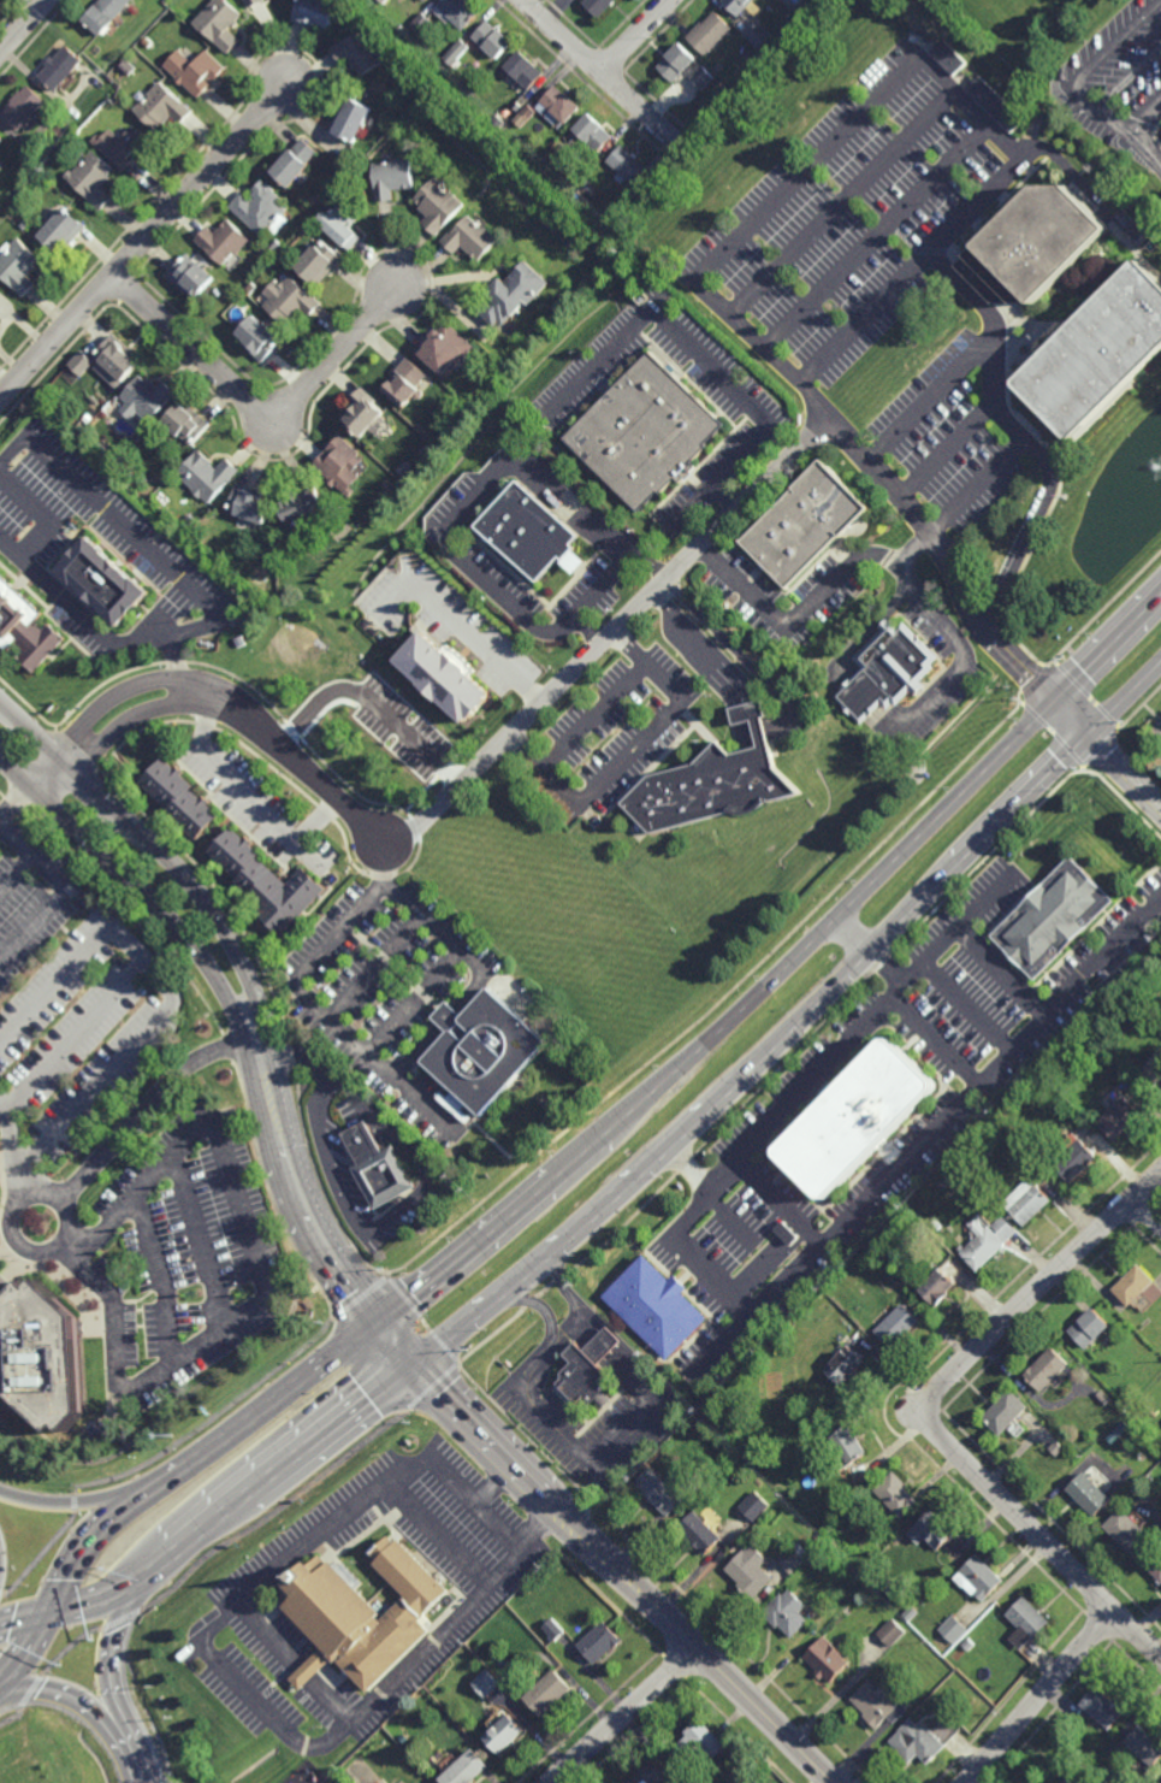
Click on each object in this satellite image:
building: (426, 0)
building: (383, 1)
building: (253, 2)
building: (739, 5)
building: (813, 5)
building: (599, 6)
building: (315, 12)
building: (457, 12)
building: (105, 14)
building: (220, 23)
building: (421, 23)
road: (24, 26)
building: (710, 33)
building: (758, 34)
road: (636, 36)
building: (493, 39)
building: (147, 42)
building: (420, 48)
building: (362, 51)
building: (455, 53)
building: (948, 58)
building: (677, 61)
building: (128, 66)
building: (61, 67)
building: (194, 70)
building: (522, 72)
road: (602, 72)
building: (704, 77)
road: (1131, 85)
road: (1073, 88)
building: (521, 102)
building: (994, 104)
building: (162, 106)
building: (23, 107)
building: (559, 107)
building: (525, 116)
road: (1144, 116)
building: (496, 117)
building: (351, 118)
building: (594, 132)
building: (1, 140)
building: (123, 144)
building: (417, 153)
road: (1062, 161)
building: (296, 163)
building: (423, 164)
building: (626, 164)
building: (579, 171)
building: (91, 177)
building: (393, 178)
building: (587, 189)
road: (775, 203)
road: (841, 203)
building: (439, 206)
building: (263, 207)
building: (23, 224)
building: (340, 226)
building: (64, 230)
road: (876, 237)
building: (472, 238)
building: (225, 241)
road: (144, 242)
building: (277, 244)
building: (1039, 247)
building: (266, 250)
building: (320, 262)
building: (18, 265)
building: (195, 277)
building: (514, 295)
building: (294, 302)
building: (261, 338)
building: (446, 350)
building: (1098, 354)
building: (118, 361)
building: (82, 362)
road: (701, 362)
building: (407, 385)
building: (147, 398)
building: (95, 400)
road: (929, 402)
road: (260, 403)
building: (363, 414)
building: (188, 423)
building: (647, 431)
road: (1021, 437)
building: (105, 448)
road: (946, 453)
building: (338, 464)
building: (207, 473)
building: (387, 485)
road: (976, 486)
building: (302, 502)
building: (251, 503)
road: (692, 509)
road: (40, 518)
building: (189, 519)
road: (458, 521)
building: (806, 521)
building: (537, 526)
building: (340, 531)
road: (912, 548)
building: (105, 578)
building: (288, 591)
road: (211, 606)
road: (884, 622)
building: (25, 626)
road: (590, 630)
road: (609, 637)
building: (209, 642)
road: (473, 649)
road: (179, 663)
building: (888, 671)
building: (445, 677)
traffic signals: (1056, 701)
road: (371, 709)
road: (96, 710)
road: (597, 716)
road: (1073, 719)
road: (788, 728)
road: (106, 733)
traffic signals: (1090, 738)
road: (630, 751)
road: (291, 755)
road: (1125, 773)
building: (715, 781)
road: (242, 787)
building: (180, 798)
road: (16, 802)
road: (316, 819)
road: (161, 851)
road: (885, 869)
road: (17, 876)
building: (267, 881)
road: (934, 888)
road: (141, 891)
road: (59, 897)
building: (1055, 919)
road: (852, 935)
road: (977, 946)
road: (461, 956)
road: (374, 968)
road: (885, 968)
road: (165, 988)
road: (313, 1000)
road: (414, 1004)
road: (969, 1006)
road: (444, 1032)
road: (75, 1037)
road: (931, 1043)
road: (230, 1047)
building: (484, 1051)
building: (1153, 1069)
road: (810, 1080)
road: (149, 1105)
building: (855, 1120)
building: (1120, 1120)
building: (993, 1126)
road: (926, 1135)
road: (16, 1149)
road: (579, 1157)
building: (1074, 1161)
building: (378, 1168)
road: (269, 1197)
building: (1027, 1202)
road: (775, 1204)
road: (1148, 1212)
road: (728, 1215)
road: (308, 1216)
road: (67, 1218)
building: (786, 1232)
road: (371, 1234)
road: (559, 1239)
road: (200, 1240)
building: (987, 1241)
road: (466, 1253)
road: (691, 1258)
road: (765, 1263)
road: (158, 1276)
road: (267, 1282)
building: (937, 1287)
building: (1138, 1288)
road: (1041, 1291)
building: (653, 1305)
building: (896, 1326)
traffic signals: (379, 1327)
road: (564, 1327)
building: (1090, 1328)
building: (49, 1347)
traffic signals: (411, 1364)
building: (845, 1365)
road: (526, 1366)
building: (588, 1368)
building: (1048, 1369)
road: (641, 1388)
road: (285, 1394)
building: (1102, 1399)
building: (1130, 1401)
road: (172, 1407)
building: (1138, 1409)
building: (1006, 1412)
road: (328, 1429)
building: (847, 1446)
road: (168, 1448)
road: (167, 1478)
road: (497, 1483)
building: (664, 1490)
building: (1088, 1493)
building: (895, 1495)
road: (71, 1500)
building: (754, 1505)
road: (209, 1523)
road: (498, 1525)
building: (932, 1530)
building: (1126, 1530)
road: (540, 1531)
building: (700, 1531)
road: (437, 1536)
road: (1039, 1536)
road: (83, 1546)
road: (211, 1552)
building: (796, 1555)
road: (156, 1566)
building: (751, 1570)
building: (1156, 1570)
road: (622, 1572)
building: (979, 1577)
traffic signals: (140, 1580)
road: (94, 1602)
building: (848, 1610)
building: (787, 1612)
building: (362, 1613)
building: (911, 1613)
traffic signals: (45, 1614)
road: (22, 1618)
building: (1026, 1622)
building: (953, 1628)
building: (553, 1629)
building: (892, 1631)
building: (600, 1642)
building: (969, 1645)
road: (24, 1649)
building: (827, 1659)
road: (296, 1663)
road: (106, 1667)
road: (232, 1673)
building: (486, 1682)
building: (549, 1692)
road: (1039, 1696)
road: (77, 1702)
building: (878, 1704)
building: (1102, 1708)
road: (624, 1716)
building: (504, 1732)
building: (1076, 1736)
building: (923, 1740)
building: (699, 1744)
building: (1144, 1744)
building: (1110, 1749)
building: (467, 1769)
road: (138, 1770)
building: (652, 1775)
building: (381, 1782)

